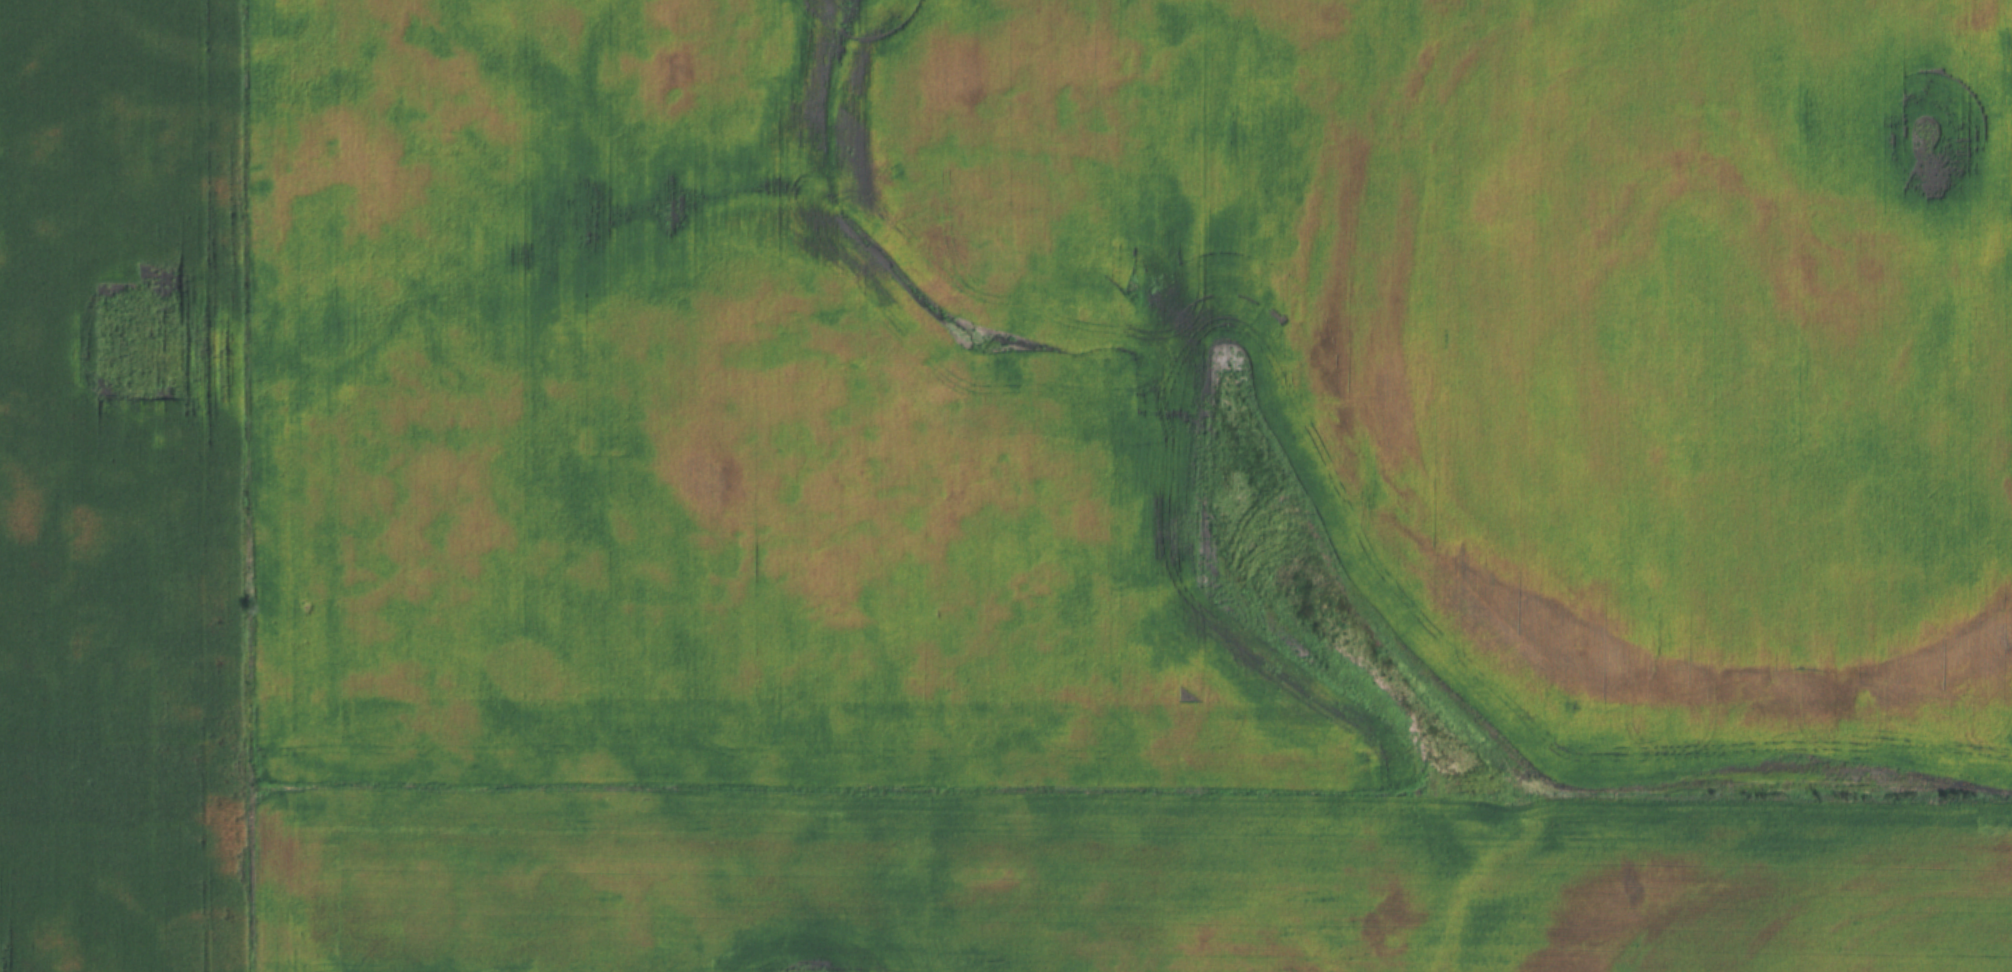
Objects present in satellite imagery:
crop: (1130, 485)
crop: (125, 488)

